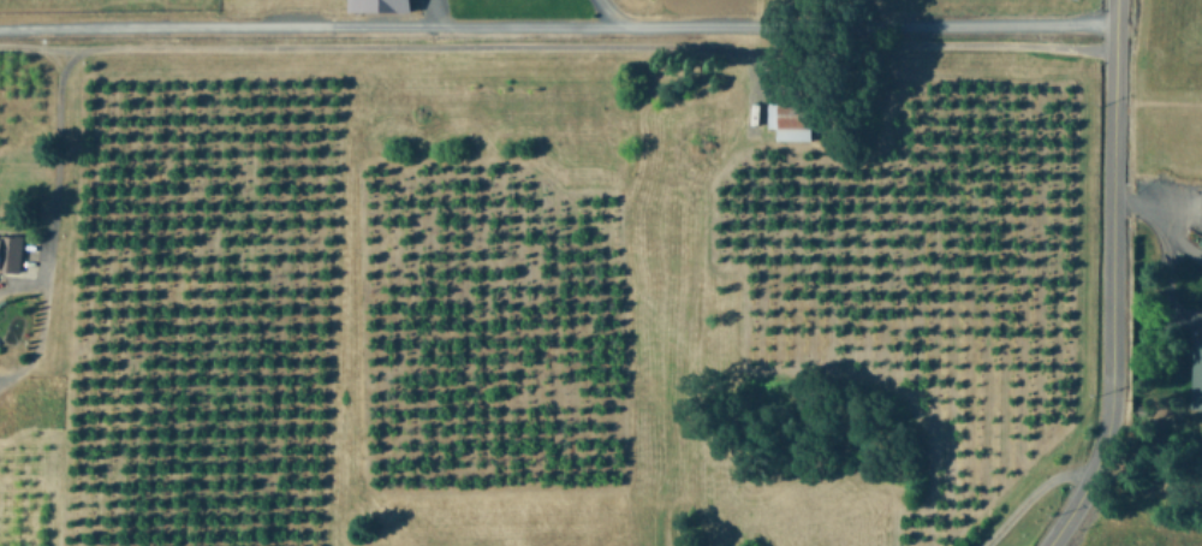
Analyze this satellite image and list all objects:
building: (383, 5)
road: (430, 8)
road: (602, 8)
road: (558, 17)
road: (558, 40)
crop: (1168, 111)
building: (795, 119)
road: (52, 177)
road: (1159, 230)
building: (12, 251)
road: (1113, 281)
building: (1197, 363)
road: (1037, 493)

